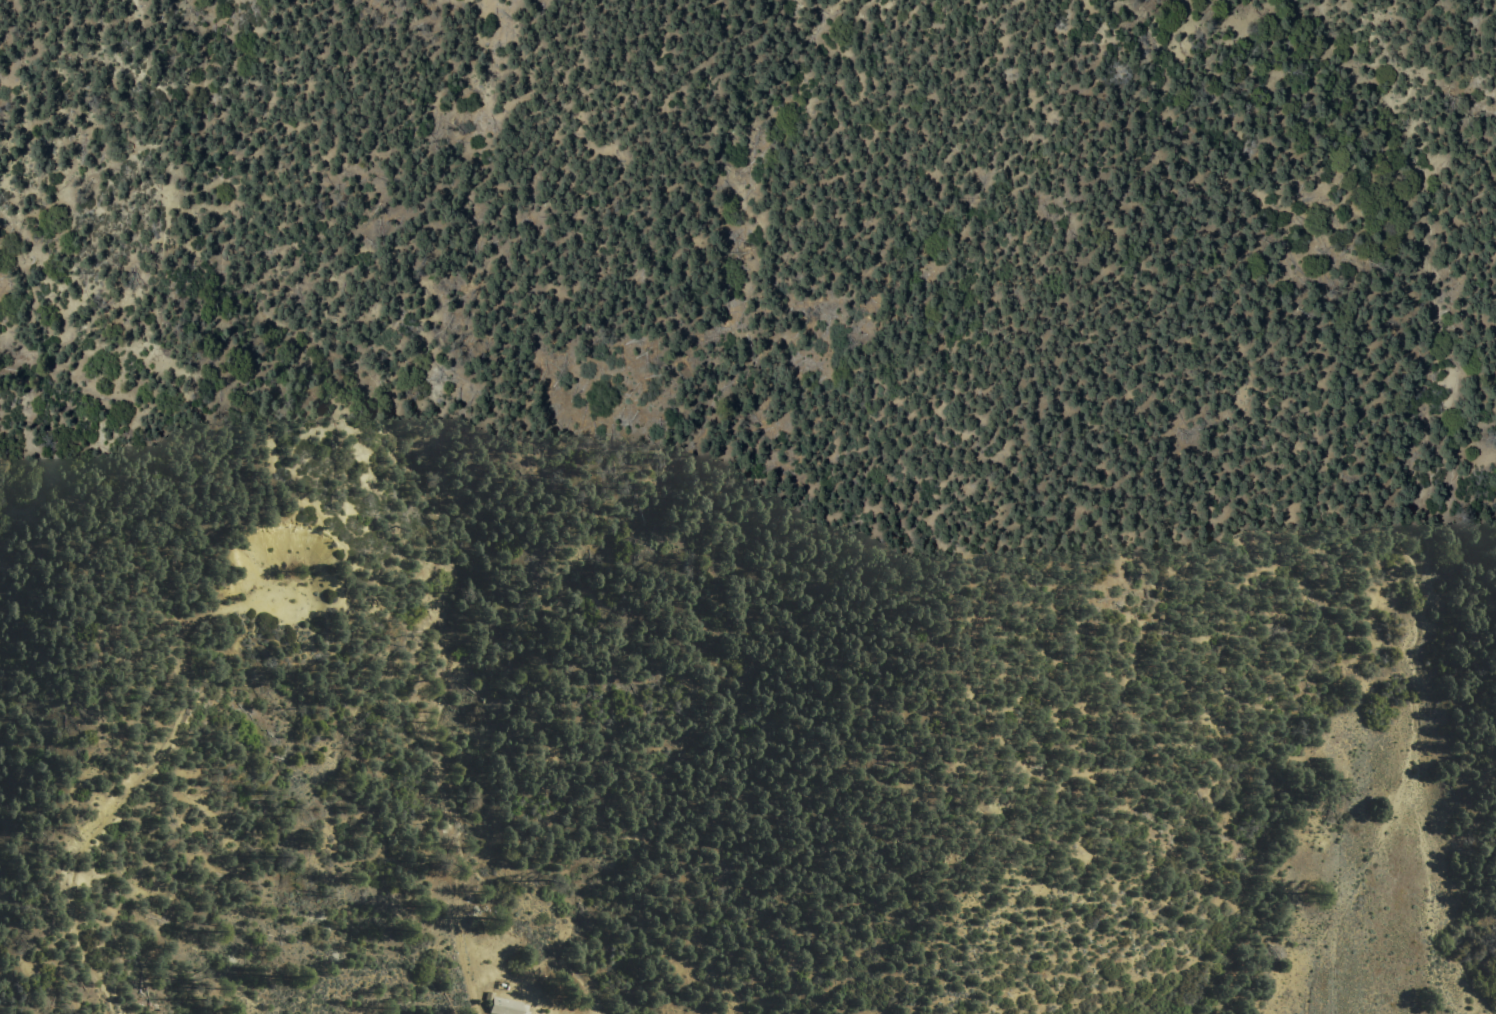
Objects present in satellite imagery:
road: (465, 958)
building: (502, 1005)

